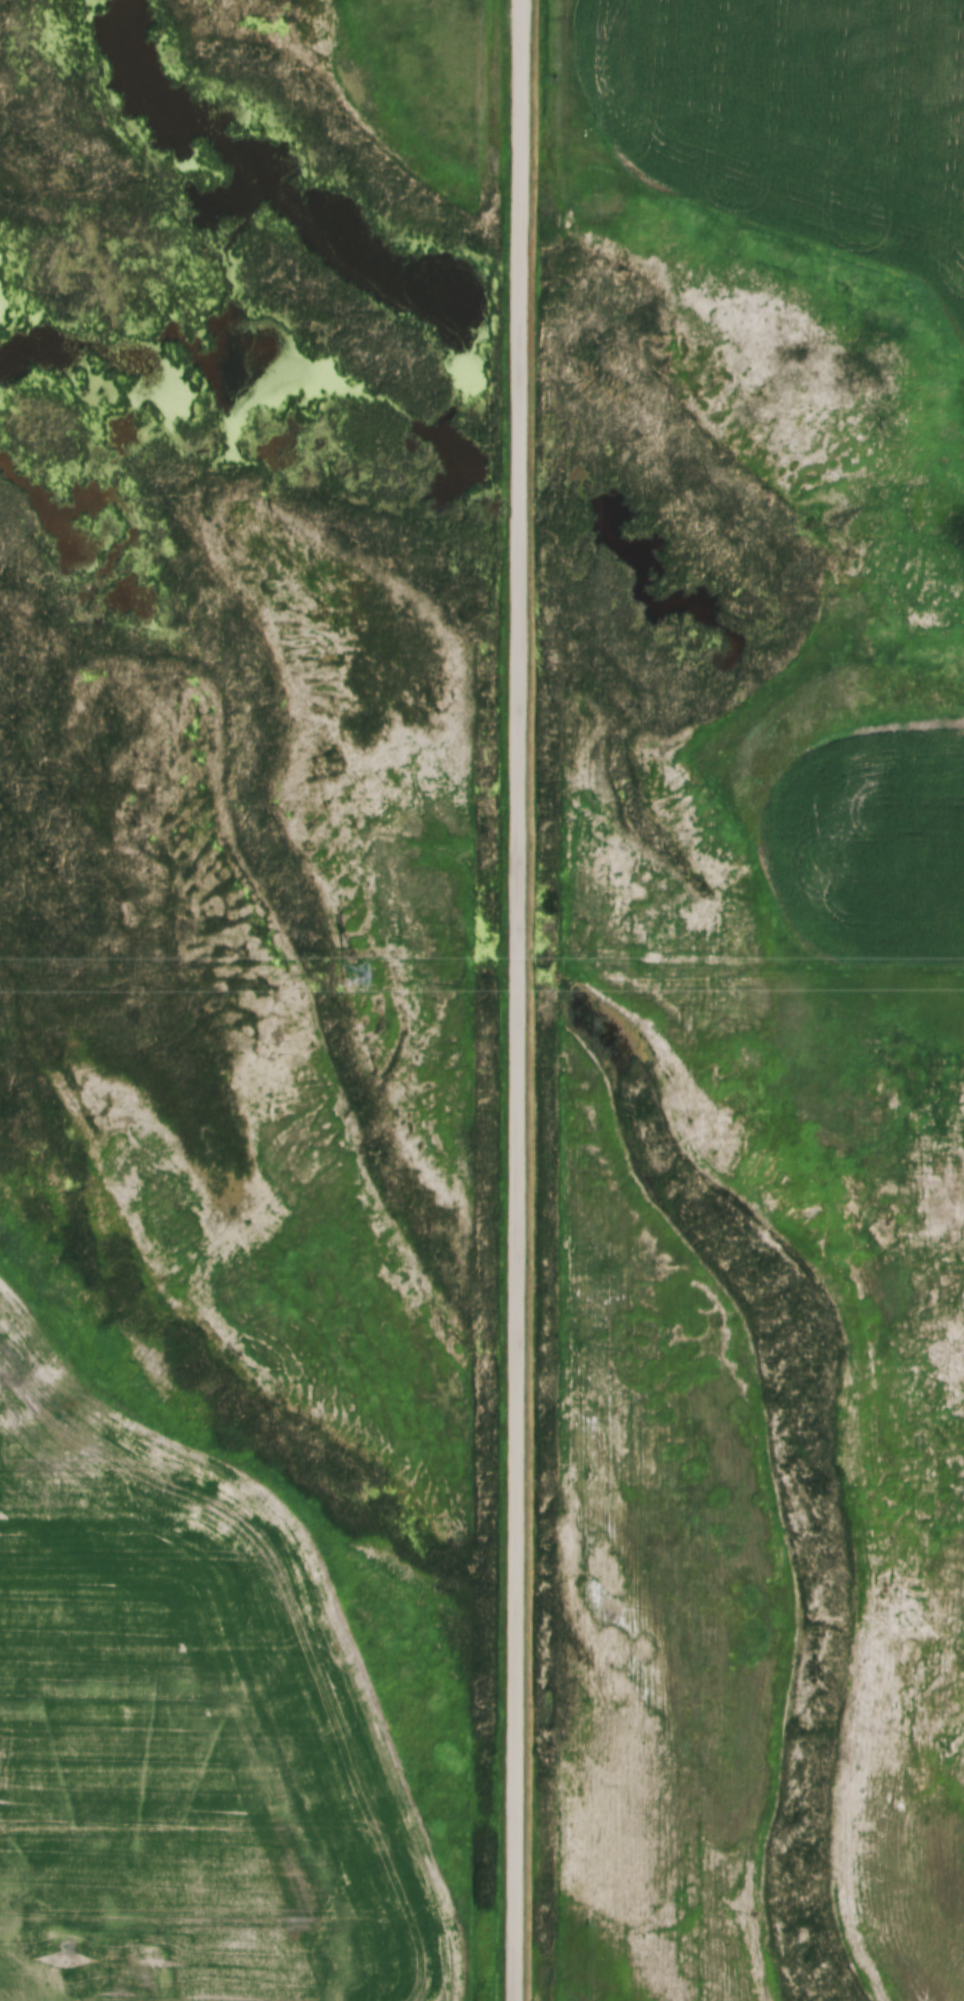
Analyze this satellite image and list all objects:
power tower: (350, 976)
road: (517, 1000)

